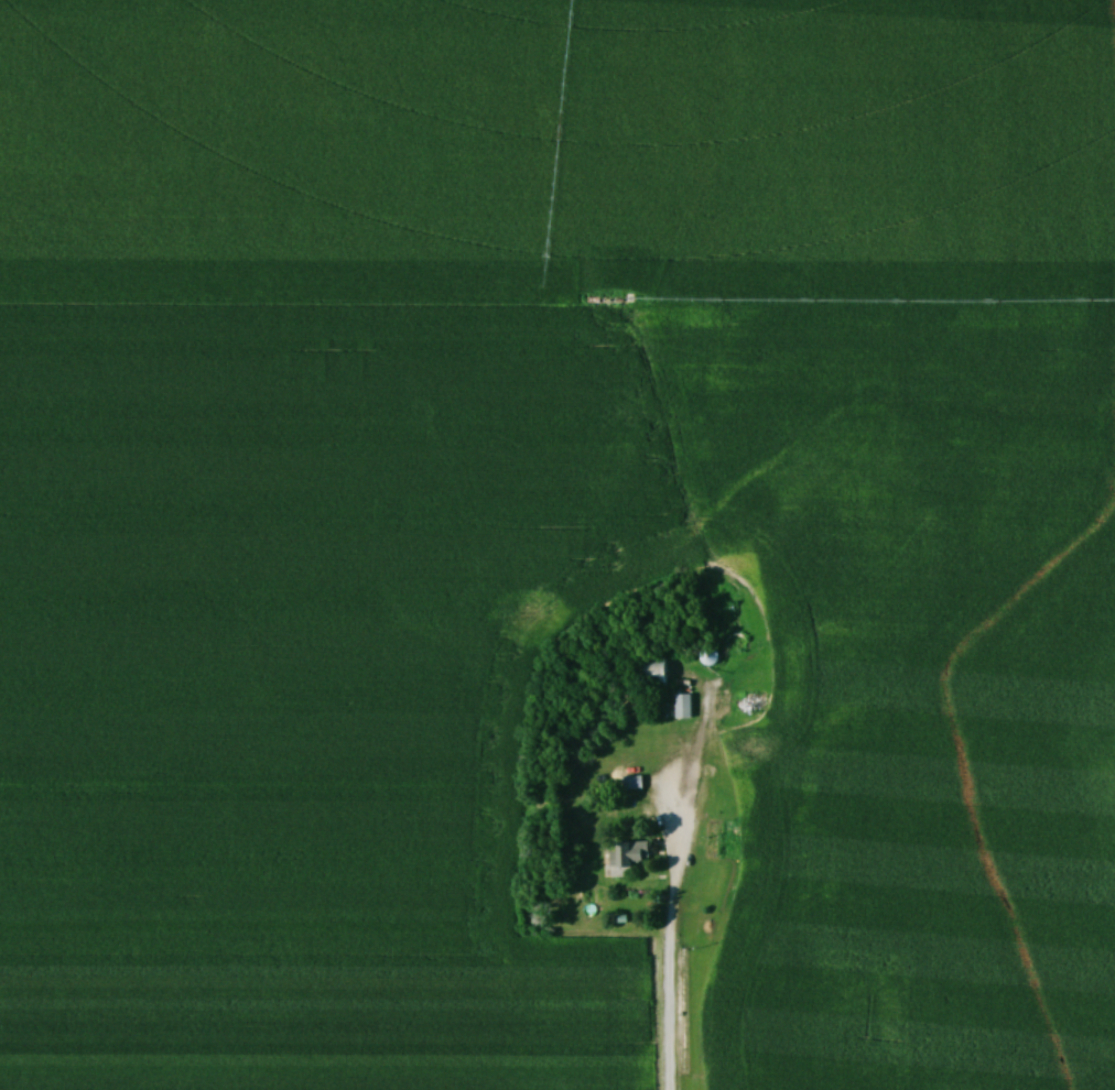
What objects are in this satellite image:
building: (652, 675)
building: (629, 857)
road: (670, 893)

